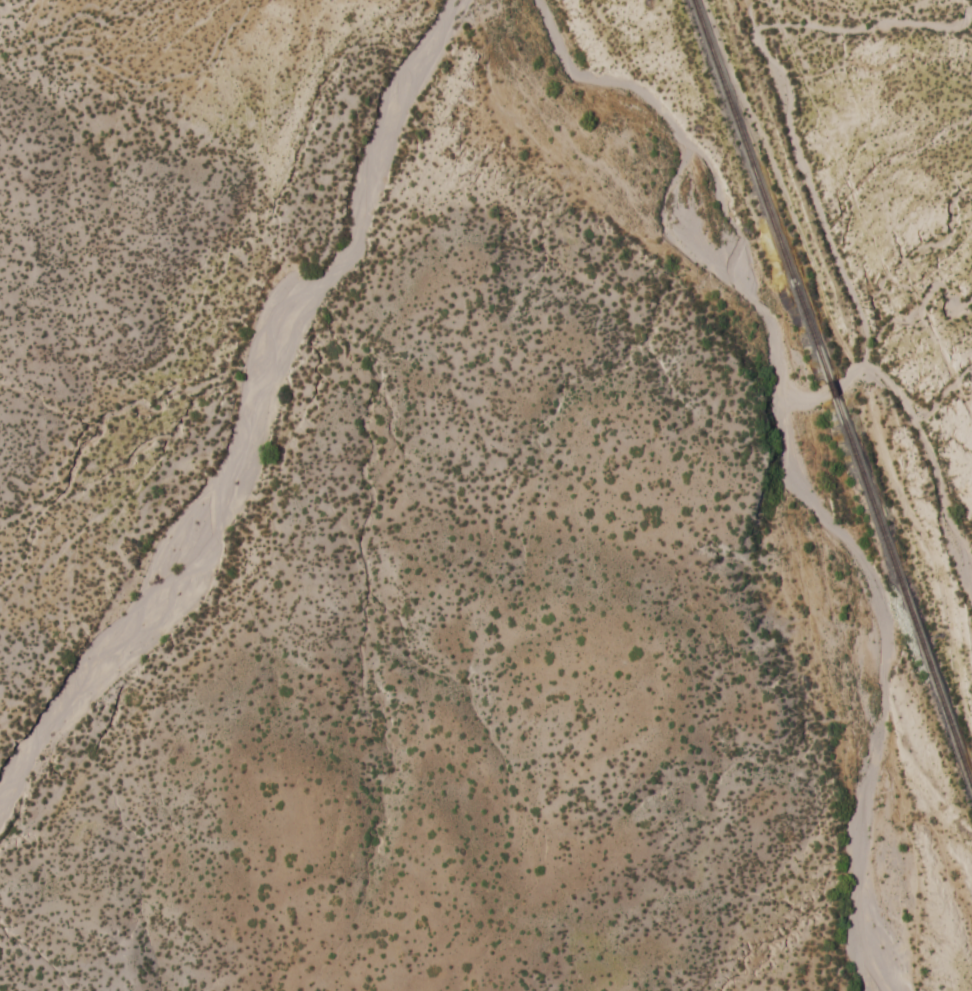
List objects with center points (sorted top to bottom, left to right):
railway: (760, 187)
railway: (833, 385)
railway: (904, 591)

